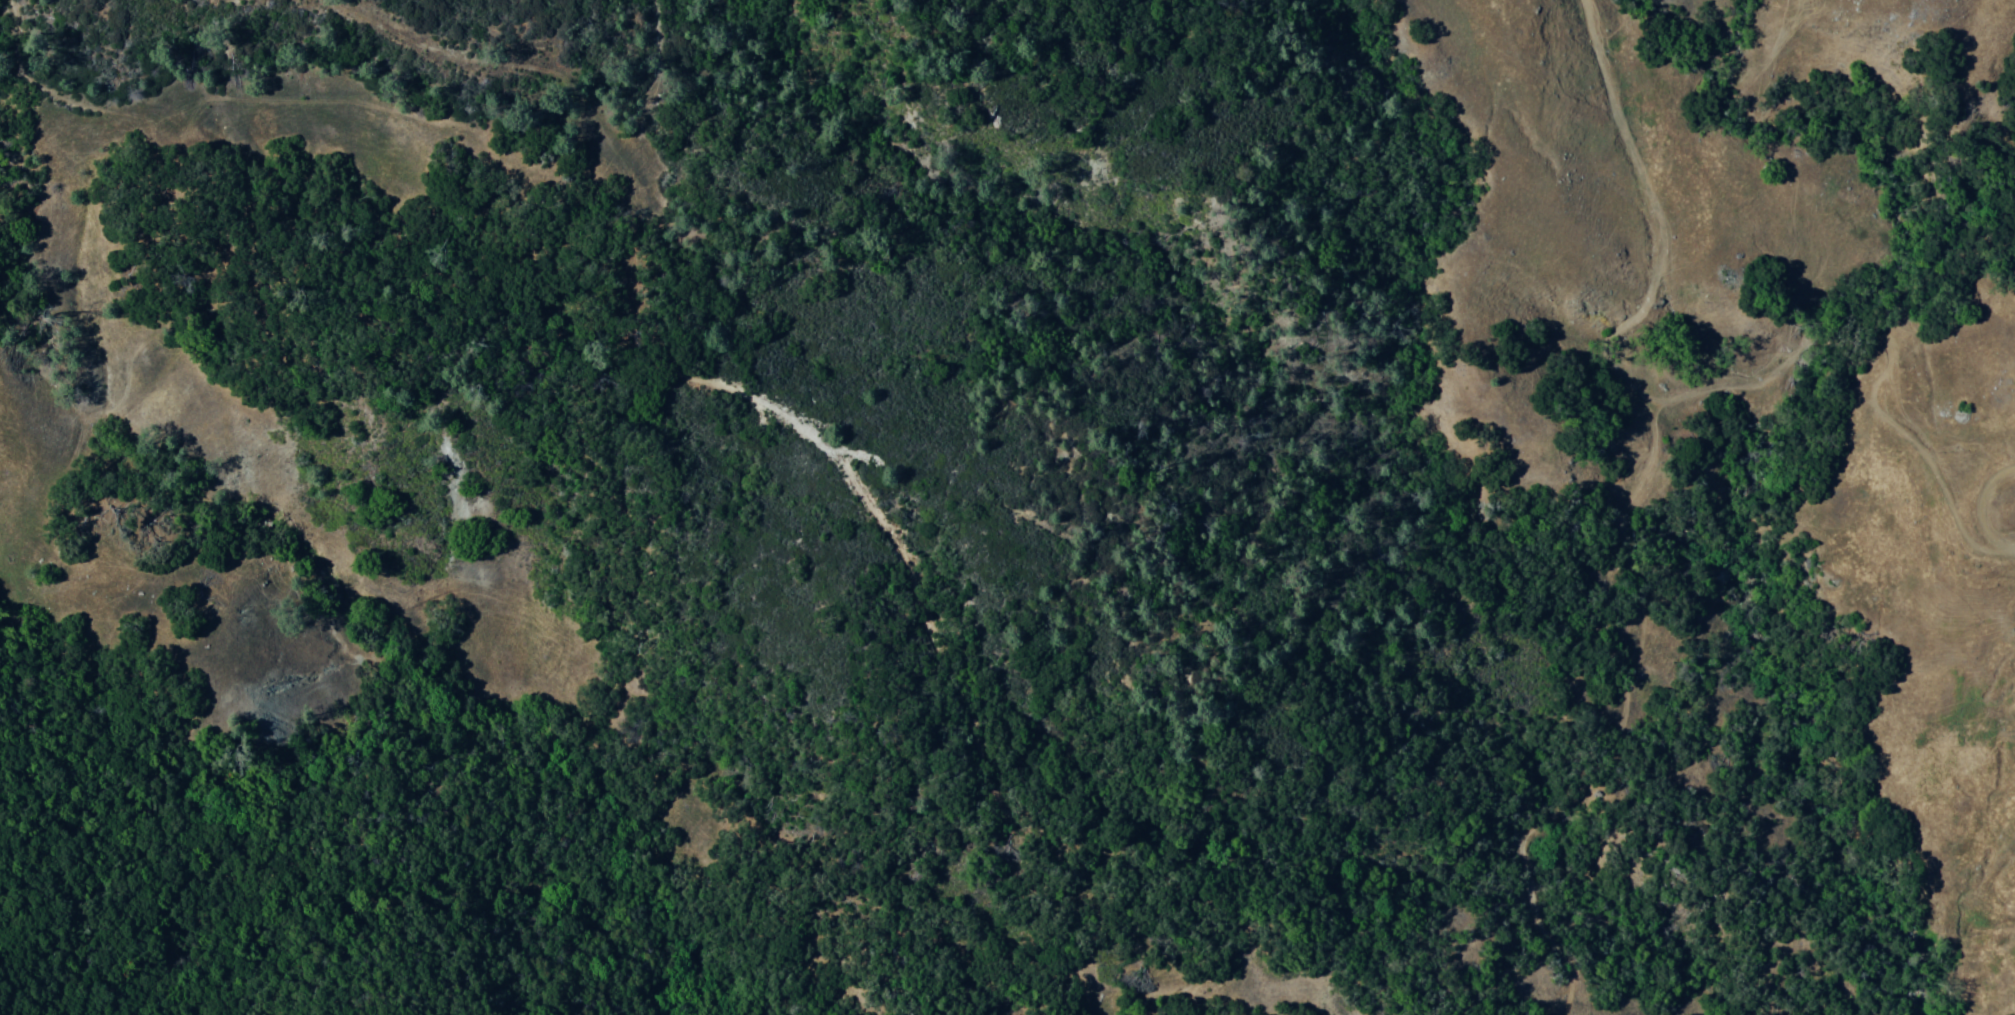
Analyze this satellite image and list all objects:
road: (1661, 216)
road: (1758, 387)
road: (1984, 509)

